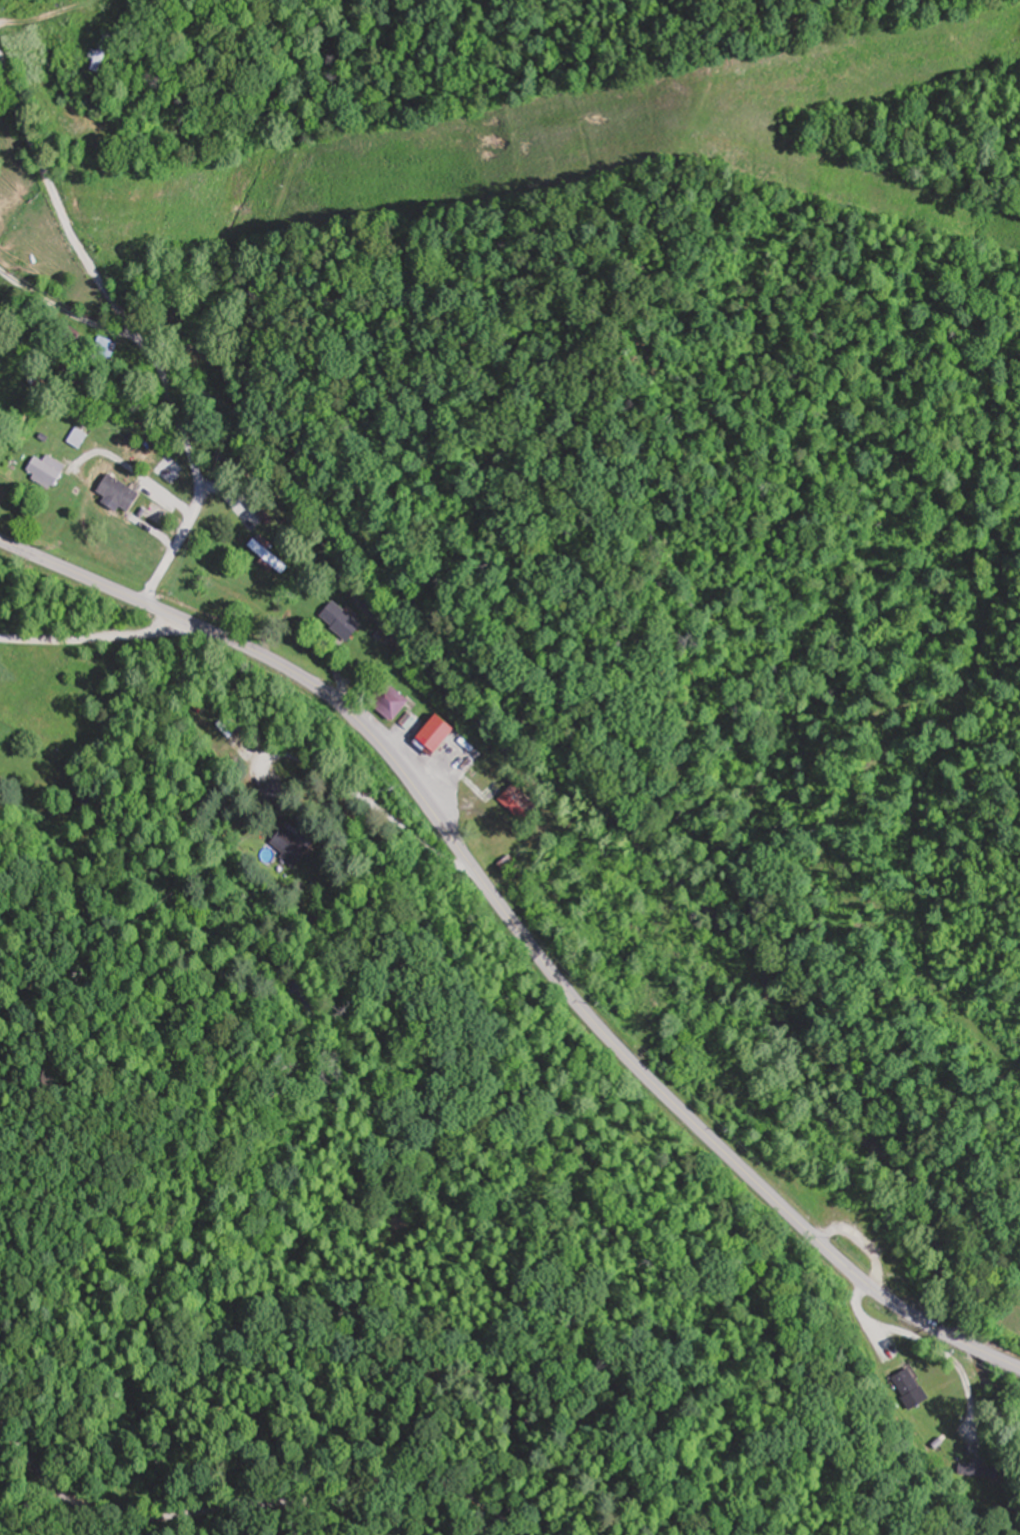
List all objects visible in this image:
building: (109, 53)
road: (70, 314)
road: (132, 330)
building: (81, 438)
building: (49, 470)
building: (121, 494)
building: (275, 559)
building: (343, 621)
building: (396, 701)
building: (448, 735)
building: (234, 738)
building: (273, 792)
road: (168, 794)
road: (367, 802)
building: (520, 805)
building: (294, 846)
building: (509, 866)
road: (521, 932)
building: (921, 1397)
road: (250, 1507)

